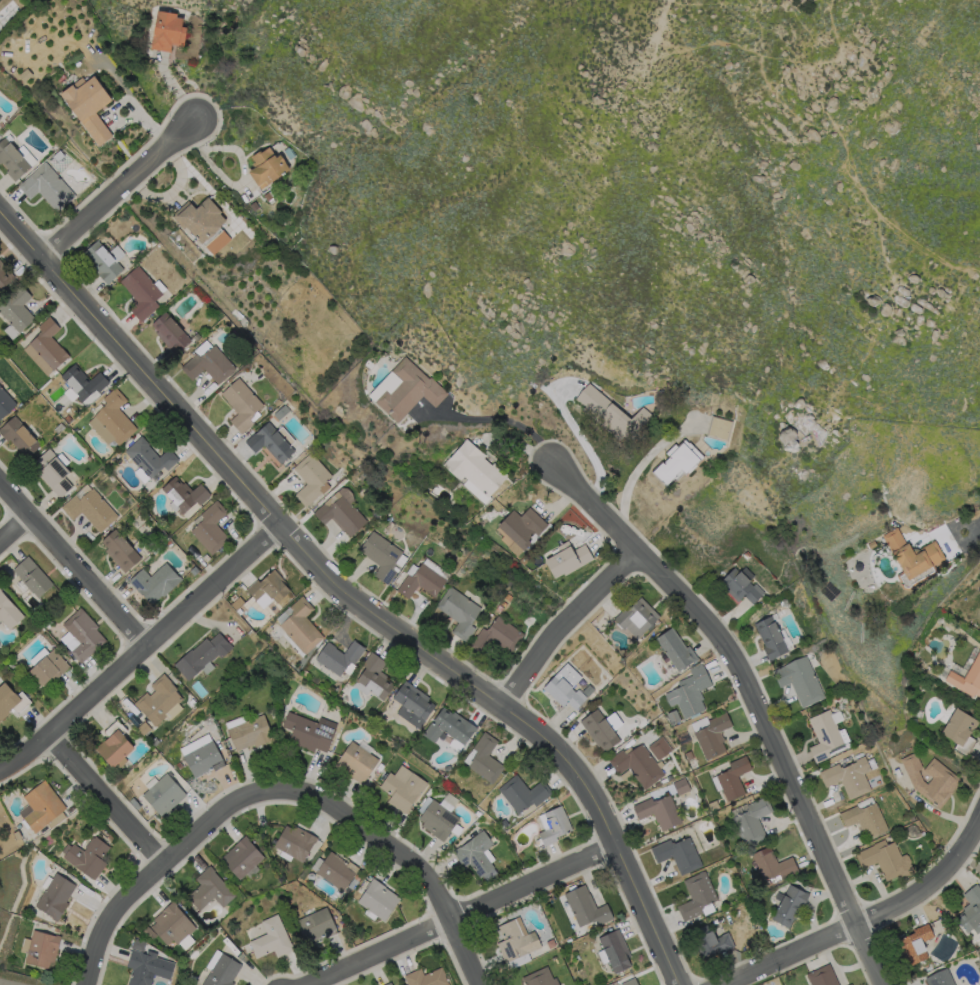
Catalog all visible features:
building: (167, 30)
road: (813, 99)
building: (87, 105)
building: (12, 157)
building: (266, 166)
building: (45, 186)
road: (118, 189)
building: (200, 218)
building: (102, 260)
building: (4, 276)
building: (140, 292)
building: (15, 308)
building: (169, 332)
building: (45, 347)
building: (207, 363)
road: (854, 377)
building: (83, 383)
building: (409, 391)
building: (5, 402)
building: (241, 403)
building: (612, 415)
road: (495, 418)
building: (111, 419)
building: (719, 428)
building: (18, 436)
road: (583, 441)
building: (269, 442)
building: (148, 457)
building: (678, 461)
road: (638, 464)
building: (475, 471)
building: (52, 472)
building: (183, 494)
building: (89, 509)
building: (339, 511)
road: (964, 524)
building: (208, 527)
building: (523, 527)
road: (15, 532)
building: (871, 544)
building: (119, 549)
building: (380, 555)
building: (746, 555)
building: (567, 559)
building: (913, 559)
building: (540, 561)
road: (72, 563)
building: (724, 573)
building: (31, 576)
building: (153, 582)
building: (422, 582)
building: (741, 587)
building: (267, 588)
road: (351, 597)
building: (508, 597)
building: (503, 604)
building: (499, 609)
building: (8, 612)
building: (459, 612)
building: (637, 618)
road: (561, 621)
building: (299, 625)
building: (80, 635)
building: (498, 636)
building: (771, 639)
road: (139, 649)
building: (676, 650)
building: (201, 655)
building: (338, 657)
building: (47, 667)
building: (609, 674)
building: (373, 676)
building: (968, 679)
building: (800, 681)
building: (565, 687)
building: (690, 692)
road: (751, 696)
building: (10, 699)
building: (158, 701)
building: (413, 705)
building: (674, 717)
building: (613, 720)
building: (450, 727)
building: (959, 727)
building: (600, 730)
building: (308, 731)
building: (248, 732)
building: (824, 735)
building: (713, 736)
building: (113, 748)
building: (660, 748)
building: (200, 755)
building: (690, 755)
building: (486, 759)
building: (355, 761)
building: (638, 766)
building: (447, 768)
building: (897, 772)
building: (848, 777)
building: (734, 779)
building: (931, 780)
building: (661, 782)
building: (681, 786)
building: (403, 791)
building: (161, 793)
building: (524, 793)
road: (108, 798)
building: (39, 805)
building: (713, 806)
building: (659, 812)
building: (478, 814)
building: (865, 819)
building: (438, 820)
building: (752, 821)
road: (354, 822)
building: (505, 823)
building: (555, 826)
building: (293, 841)
building: (678, 855)
building: (86, 856)
building: (477, 856)
building: (241, 858)
building: (885, 859)
building: (774, 865)
building: (334, 870)
building: (208, 889)
building: (54, 895)
building: (697, 896)
building: (379, 900)
building: (790, 905)
building: (586, 907)
building: (971, 910)
road: (459, 912)
road: (113, 916)
road: (863, 918)
building: (168, 925)
building: (314, 925)
building: (270, 938)
building: (516, 941)
building: (711, 941)
building: (916, 944)
building: (39, 948)
building: (615, 950)
building: (220, 969)
building: (822, 976)
building: (426, 977)
building: (540, 978)
building: (940, 978)
building: (630, 982)
road: (7, 983)
building: (389, 984)
building: (848, 984)
building: (851, 984)

